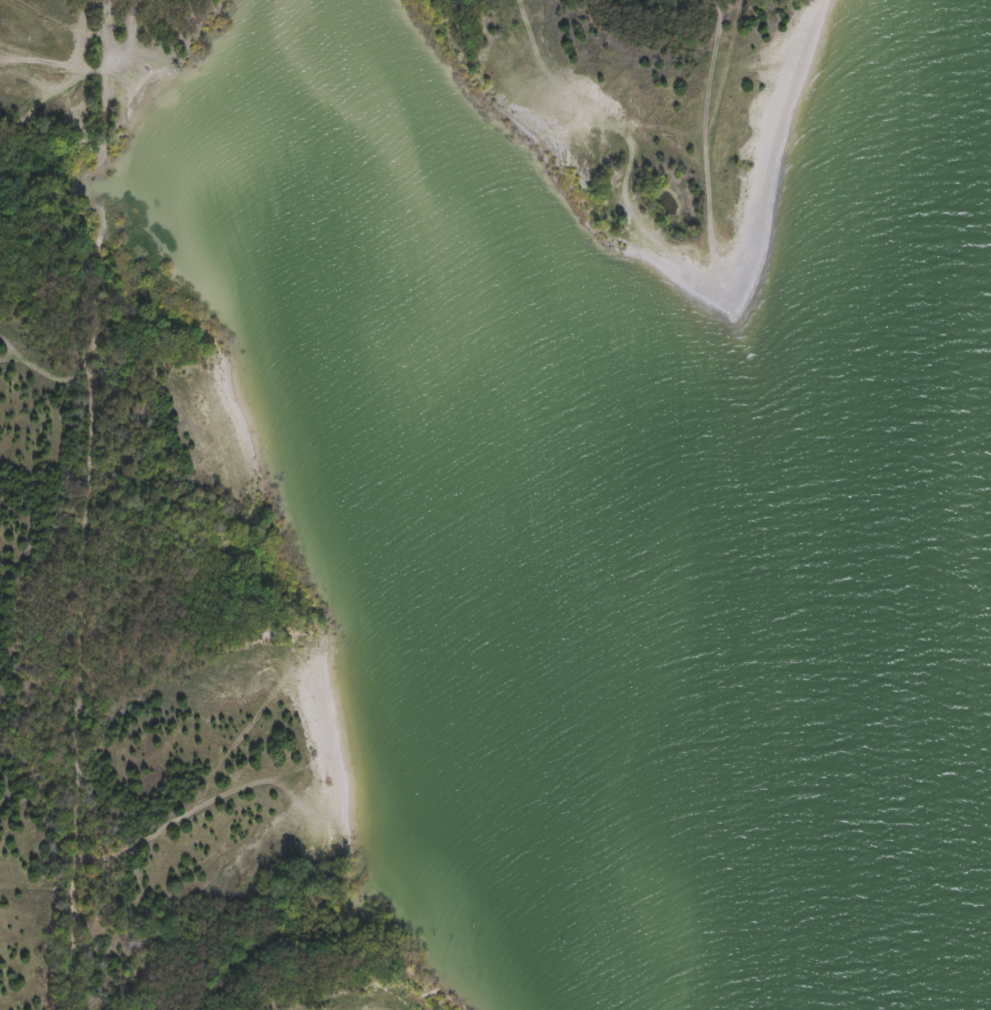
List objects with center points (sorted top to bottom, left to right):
road: (79, 89)
road: (85, 629)

